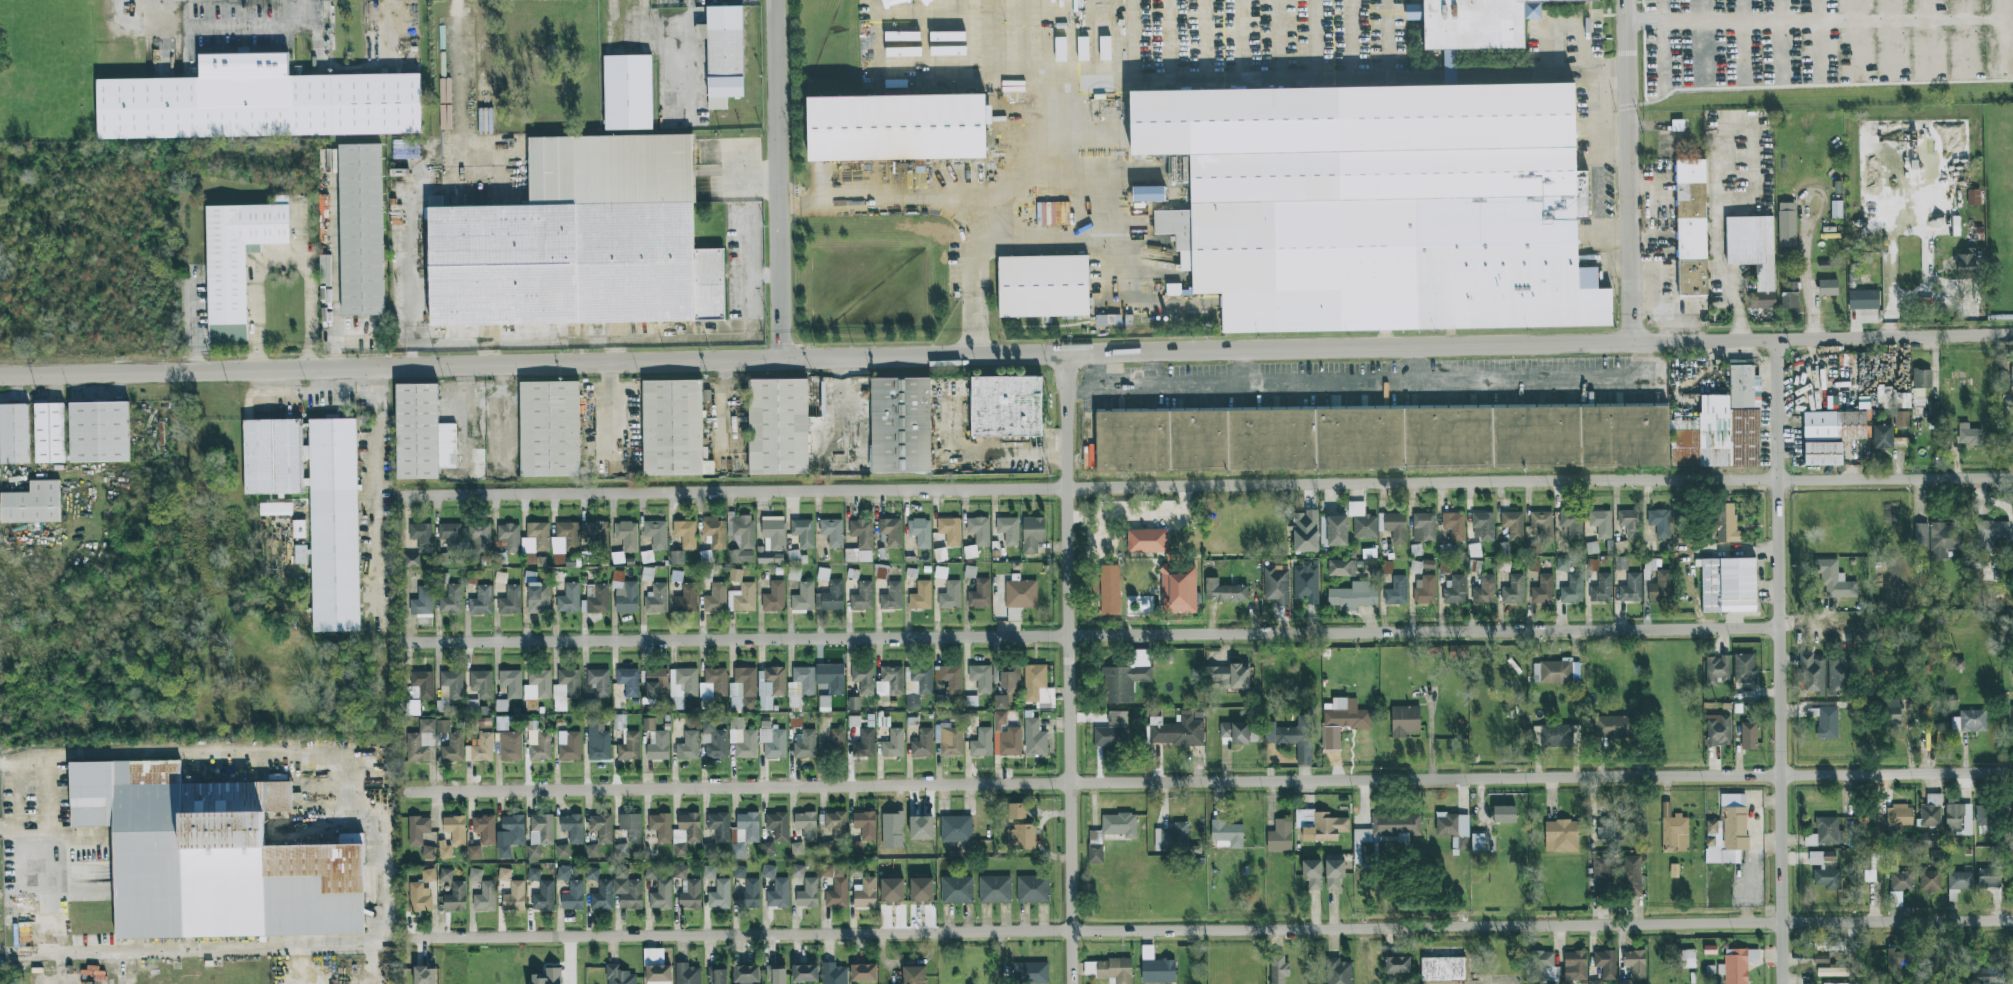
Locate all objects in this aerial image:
building: (909, 0)
building: (976, 6)
building: (1251, 8)
road: (1809, 17)
building: (1479, 22)
road: (1565, 28)
road: (211, 31)
building: (1161, 35)
road: (689, 53)
building: (724, 55)
building: (938, 72)
road: (1143, 84)
building: (630, 91)
building: (258, 103)
building: (1111, 111)
road: (458, 128)
building: (900, 128)
road: (720, 171)
road: (1634, 171)
road: (768, 178)
road: (782, 179)
building: (1148, 194)
building: (1973, 197)
building: (1381, 208)
building: (1835, 209)
building: (1786, 224)
building: (1691, 228)
building: (360, 230)
road: (1805, 237)
building: (580, 242)
road: (1718, 247)
building: (1753, 254)
building: (237, 255)
road: (284, 257)
building: (1965, 266)
road: (767, 279)
road: (974, 285)
road: (408, 287)
building: (1044, 287)
building: (1828, 287)
building: (1173, 289)
building: (1789, 295)
building: (1863, 299)
building: (1108, 320)
road: (192, 322)
road: (1399, 347)
road: (392, 366)
building: (2011, 375)
building: (1921, 378)
road: (1382, 384)
building: (1007, 408)
road: (728, 409)
building: (1933, 409)
road: (1780, 410)
road: (846, 411)
road: (620, 412)
road: (471, 413)
building: (1901, 419)
building: (778, 427)
building: (901, 427)
building: (672, 428)
building: (549, 430)
building: (417, 431)
building: (66, 435)
building: (1968, 435)
building: (1882, 436)
building: (1438, 438)
building: (1822, 453)
building: (272, 458)
road: (963, 461)
road: (379, 478)
road: (1204, 486)
building: (33, 504)
building: (275, 511)
building: (1362, 522)
building: (1542, 522)
building: (1571, 522)
building: (1659, 522)
building: (1726, 522)
building: (1601, 523)
building: (1630, 523)
building: (1513, 524)
building: (1454, 525)
building: (334, 526)
building: (1393, 526)
building: (1482, 526)
building: (1423, 527)
building: (979, 530)
building: (1008, 530)
building: (298, 531)
building: (949, 531)
building: (1305, 531)
building: (1334, 531)
building: (714, 532)
building: (803, 532)
building: (832, 532)
building: (890, 532)
building: (920, 532)
building: (450, 533)
building: (1990, 533)
building: (595, 534)
building: (656, 534)
building: (685, 534)
building: (1032, 534)
building: (627, 535)
building: (421, 536)
building: (509, 536)
building: (1920, 536)
building: (479, 537)
building: (741, 537)
building: (536, 538)
building: (1944, 539)
building: (772, 540)
building: (1147, 541)
building: (860, 542)
building: (1473, 551)
building: (301, 554)
building: (793, 556)
building: (676, 557)
building: (441, 559)
building: (411, 560)
building: (1620, 562)
building: (1562, 564)
building: (1651, 564)
building: (1533, 566)
building: (1341, 568)
building: (970, 572)
building: (794, 573)
building: (2005, 574)
building: (735, 575)
building: (1833, 580)
building: (1306, 583)
building: (1276, 584)
building: (1728, 585)
building: (1660, 587)
building: (1630, 588)
building: (1514, 589)
building: (1543, 589)
building: (1572, 589)
building: (1601, 589)
building: (1109, 590)
building: (1424, 590)
building: (1484, 590)
building: (1178, 591)
building: (1223, 591)
building: (1396, 591)
building: (1455, 591)
building: (624, 593)
building: (979, 594)
building: (1020, 594)
building: (950, 595)
building: (921, 596)
building: (1353, 596)
building: (774, 597)
building: (803, 597)
building: (831, 597)
building: (862, 597)
building: (891, 597)
building: (538, 598)
building: (656, 598)
building: (715, 598)
building: (742, 598)
building: (568, 599)
building: (595, 599)
building: (686, 599)
building: (451, 600)
building: (481, 600)
building: (510, 601)
building: (422, 602)
road: (1094, 634)
building: (1743, 668)
road: (1072, 669)
building: (1716, 670)
building: (1552, 671)
building: (1575, 672)
building: (1812, 674)
building: (1840, 674)
building: (1229, 676)
building: (980, 677)
building: (1127, 677)
building: (831, 678)
building: (951, 678)
building: (863, 679)
building: (922, 679)
building: (1009, 680)
building: (628, 681)
building: (890, 681)
building: (599, 682)
building: (713, 682)
building: (802, 682)
building: (452, 683)
building: (481, 683)
building: (511, 683)
building: (422, 684)
building: (538, 685)
building: (682, 686)
building: (770, 686)
building: (1037, 686)
building: (565, 688)
building: (652, 689)
building: (743, 690)
building: (443, 698)
building: (707, 702)
building: (1000, 702)
building: (824, 703)
building: (854, 703)
building: (912, 703)
building: (412, 708)
building: (1891, 711)
building: (2012, 719)
building: (1343, 720)
building: (1404, 720)
building: (854, 721)
building: (1969, 721)
building: (619, 722)
building: (1827, 722)
building: (501, 723)
building: (648, 724)
building: (443, 726)
building: (1620, 727)
building: (1177, 730)
building: (1718, 730)
building: (1112, 731)
building: (1235, 732)
road: (1782, 732)
building: (1555, 735)
building: (1005, 736)
building: (1748, 736)
building: (1034, 738)
building: (1293, 738)
building: (742, 739)
building: (713, 740)
building: (837, 740)
building: (950, 740)
building: (421, 741)
building: (597, 741)
building: (772, 741)
building: (538, 743)
building: (893, 743)
building: (923, 743)
building: (981, 743)
building: (863, 744)
building: (569, 745)
building: (805, 745)
building: (510, 746)
building: (658, 746)
building: (688, 746)
building: (629, 747)
building: (453, 748)
building: (480, 749)
road: (158, 753)
road: (22, 754)
building: (154, 773)
road: (1209, 781)
building: (99, 805)
building: (1016, 811)
building: (1931, 811)
building: (1504, 814)
building: (1899, 815)
building: (1984, 815)
building: (1958, 819)
building: (836, 824)
building: (777, 825)
building: (806, 825)
building: (865, 825)
building: (1320, 825)
building: (719, 826)
building: (1452, 826)
building: (601, 827)
building: (631, 827)
building: (660, 827)
building: (484, 828)
building: (572, 828)
building: (921, 828)
building: (1115, 828)
building: (455, 829)
building: (955, 829)
building: (1605, 829)
building: (418, 830)
building: (1673, 830)
building: (1728, 830)
building: (539, 833)
building: (685, 833)
building: (744, 833)
building: (1383, 833)
building: (1825, 833)
building: (1226, 834)
building: (509, 835)
building: (1279, 836)
building: (1561, 836)
building: (1020, 837)
building: (1172, 838)
road: (106, 839)
building: (1928, 840)
building: (1477, 842)
building: (827, 847)
building: (855, 847)
building: (768, 848)
building: (796, 848)
building: (621, 849)
building: (709, 849)
building: (445, 850)
building: (592, 850)
building: (562, 851)
building: (428, 852)
building: (475, 852)
building: (1094, 853)
building: (2011, 855)
building: (1936, 856)
building: (1821, 857)
building: (243, 860)
building: (99, 863)
building: (1868, 866)
building: (856, 870)
building: (768, 871)
building: (797, 871)
building: (1673, 871)
building: (680, 872)
building: (709, 872)
building: (738, 872)
building: (563, 873)
building: (592, 873)
building: (651, 873)
building: (1334, 873)
building: (504, 874)
building: (533, 874)
building: (1312, 874)
building: (1990, 874)
building: (428, 875)
building: (446, 875)
building: (475, 875)
building: (1632, 875)
building: (1601, 876)
building: (1827, 879)
building: (1929, 881)
building: (1958, 884)
building: (835, 885)
building: (1899, 886)
building: (627, 889)
building: (995, 889)
building: (1032, 889)
building: (921, 890)
building: (956, 890)
building: (892, 891)
building: (865, 893)
building: (778, 894)
building: (808, 894)
building: (661, 895)
building: (691, 895)
building: (720, 895)
building: (749, 895)
building: (543, 896)
building: (573, 896)
building: (602, 896)
building: (455, 897)
building: (485, 897)
building: (514, 897)
building: (419, 898)
road: (1212, 929)
building: (1827, 944)
road: (184, 952)
building: (1896, 957)
building: (1684, 959)
building: (1820, 960)
building: (1605, 964)
building: (1635, 964)
building: (1738, 964)
building: (1397, 965)
building: (1575, 965)
building: (656, 967)
building: (1156, 968)
building: (1278, 968)
building: (1110, 969)
building: (1442, 970)
building: (1337, 971)
building: (863, 972)
building: (1835, 972)
building: (804, 973)
building: (1030, 973)
building: (686, 974)
building: (746, 974)
building: (833, 974)
building: (425, 975)
building: (619, 975)
building: (776, 975)
building: (913, 975)
building: (717, 976)
building: (547, 977)
road: (114, 978)
building: (1595, 982)
building: (1834, 983)

